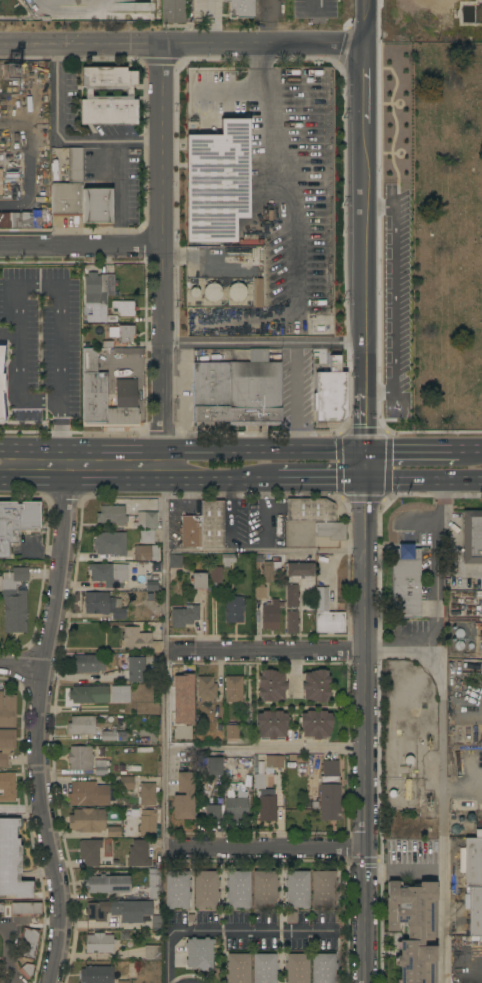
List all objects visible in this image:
building: (241, 9)
building: (173, 10)
parking lot: (414, 15)
road: (182, 43)
building: (108, 97)
road: (265, 99)
road: (58, 119)
road: (117, 170)
building: (0, 183)
building: (217, 183)
building: (69, 188)
building: (97, 207)
building: (21, 219)
park: (443, 229)
park: (447, 234)
parking lot: (395, 235)
road: (396, 236)
flagpole: (431, 238)
building: (249, 239)
road: (365, 241)
road: (81, 244)
road: (163, 248)
road: (42, 286)
building: (212, 292)
storage tank: (212, 292)
building: (236, 292)
storage tank: (236, 292)
building: (98, 293)
building: (258, 293)
building: (199, 294)
building: (124, 308)
building: (87, 319)
building: (112, 320)
building: (113, 333)
road: (7, 335)
building: (122, 336)
road: (264, 341)
building: (127, 351)
building: (2, 383)
parking lot: (299, 385)
building: (330, 386)
building: (237, 393)
building: (106, 396)
road: (297, 398)
road: (32, 452)
road: (92, 453)
road: (243, 455)
road: (472, 455)
traffic signals: (366, 456)
road: (414, 456)
road: (55, 481)
road: (137, 482)
road: (216, 483)
road: (319, 483)
traffic signals: (367, 483)
road: (424, 483)
building: (310, 510)
building: (111, 515)
building: (147, 521)
building: (16, 523)
building: (212, 524)
building: (332, 531)
building: (191, 532)
building: (147, 537)
building: (473, 538)
building: (110, 544)
road: (264, 551)
building: (146, 553)
building: (228, 560)
building: (175, 561)
building: (270, 570)
building: (299, 570)
building: (109, 574)
building: (215, 575)
building: (199, 581)
building: (405, 582)
building: (152, 586)
road: (435, 590)
building: (260, 591)
building: (292, 596)
building: (14, 601)
building: (104, 605)
building: (234, 609)
building: (270, 615)
building: (327, 615)
building: (184, 616)
building: (291, 622)
building: (140, 641)
petroleum well: (481, 641)
road: (264, 652)
building: (89, 663)
road: (22, 664)
road: (164, 666)
building: (135, 669)
building: (271, 686)
building: (316, 686)
building: (178, 688)
building: (206, 689)
building: (233, 689)
building: (120, 694)
building: (89, 695)
building: (7, 711)
road: (40, 718)
building: (272, 725)
building: (316, 725)
building: (81, 726)
building: (232, 732)
road: (365, 732)
building: (112, 734)
building: (182, 736)
petroleum well: (428, 742)
building: (6, 745)
road: (265, 751)
building: (80, 758)
building: (274, 762)
building: (213, 766)
building: (101, 767)
road: (443, 779)
building: (259, 781)
building: (126, 783)
building: (7, 786)
building: (407, 789)
building: (329, 792)
building: (148, 793)
building: (88, 794)
building: (184, 796)
petroleum well: (429, 803)
building: (267, 805)
building: (236, 807)
road: (21, 808)
building: (213, 813)
building: (87, 821)
building: (148, 823)
building: (113, 832)
road: (265, 849)
building: (89, 852)
building: (138, 853)
building: (11, 861)
building: (473, 880)
building: (106, 884)
building: (154, 884)
building: (265, 889)
building: (323, 889)
building: (176, 890)
building: (205, 890)
building: (238, 890)
building: (297, 890)
building: (1, 909)
building: (26, 909)
building: (123, 911)
building: (291, 917)
building: (413, 928)
road: (225, 930)
building: (99, 943)
building: (28, 944)
road: (7, 952)
building: (152, 953)
building: (200, 954)
building: (237, 968)
building: (264, 968)
building: (297, 968)
building: (323, 968)
building: (27, 970)
building: (96, 975)
road: (11, 982)
road: (15, 982)

